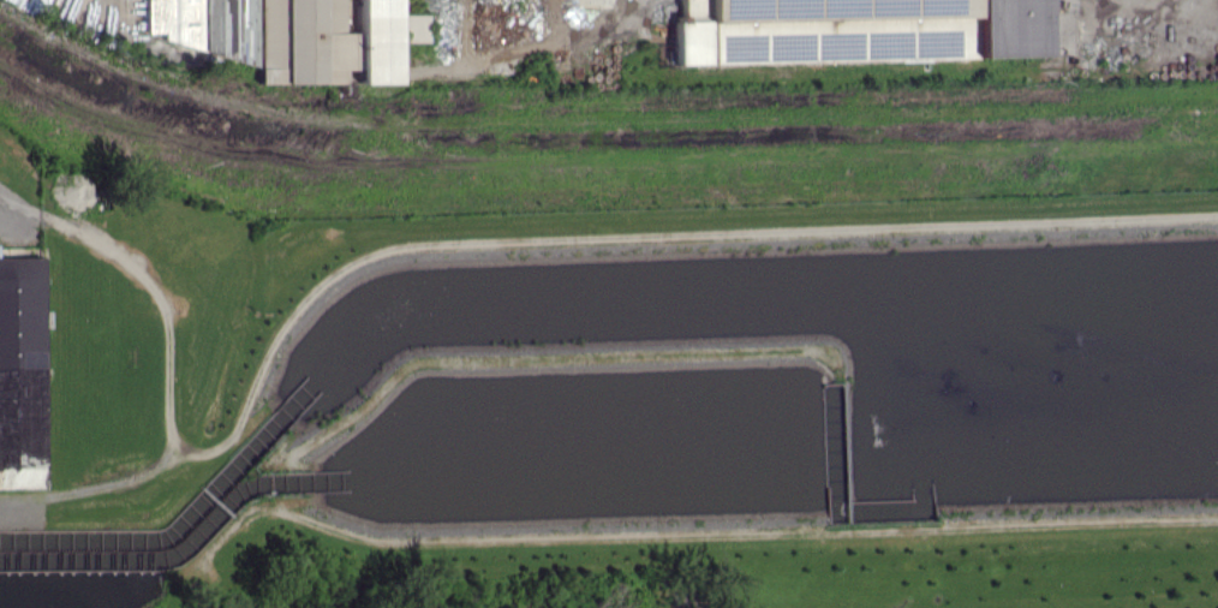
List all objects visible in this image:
building: (201, 25)
building: (412, 26)
building: (848, 30)
building: (375, 40)
building: (304, 41)
road: (41, 220)
building: (22, 360)

